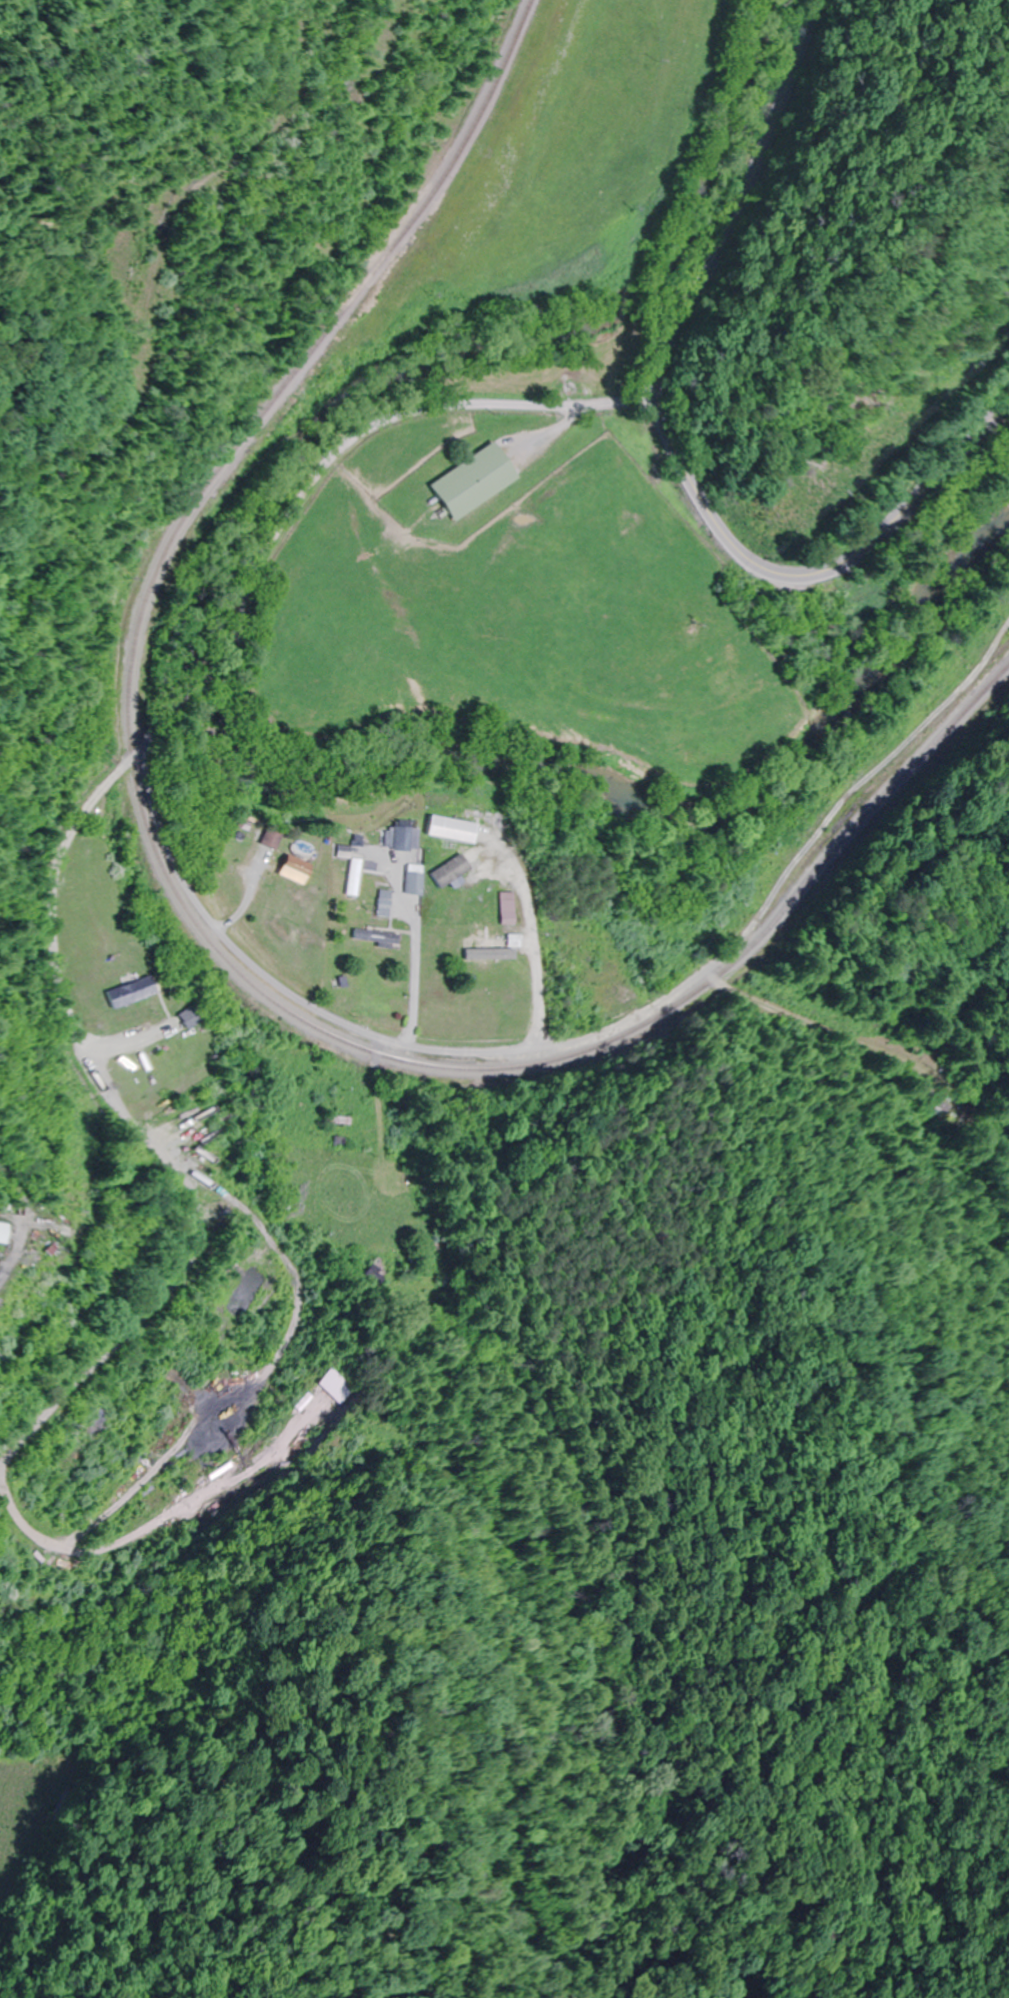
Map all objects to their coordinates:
road: (369, 426)
road: (669, 438)
building: (470, 482)
road: (206, 678)
river: (211, 692)
building: (446, 829)
building: (268, 838)
building: (400, 838)
building: (290, 869)
building: (410, 879)
building: (380, 903)
railway: (186, 904)
building: (503, 908)
building: (371, 937)
building: (485, 947)
building: (127, 992)
building: (186, 1016)
road: (530, 1050)
road: (123, 1099)
building: (3, 1231)
building: (424, 1252)
building: (380, 1270)
building: (339, 1386)
building: (14, 1815)

